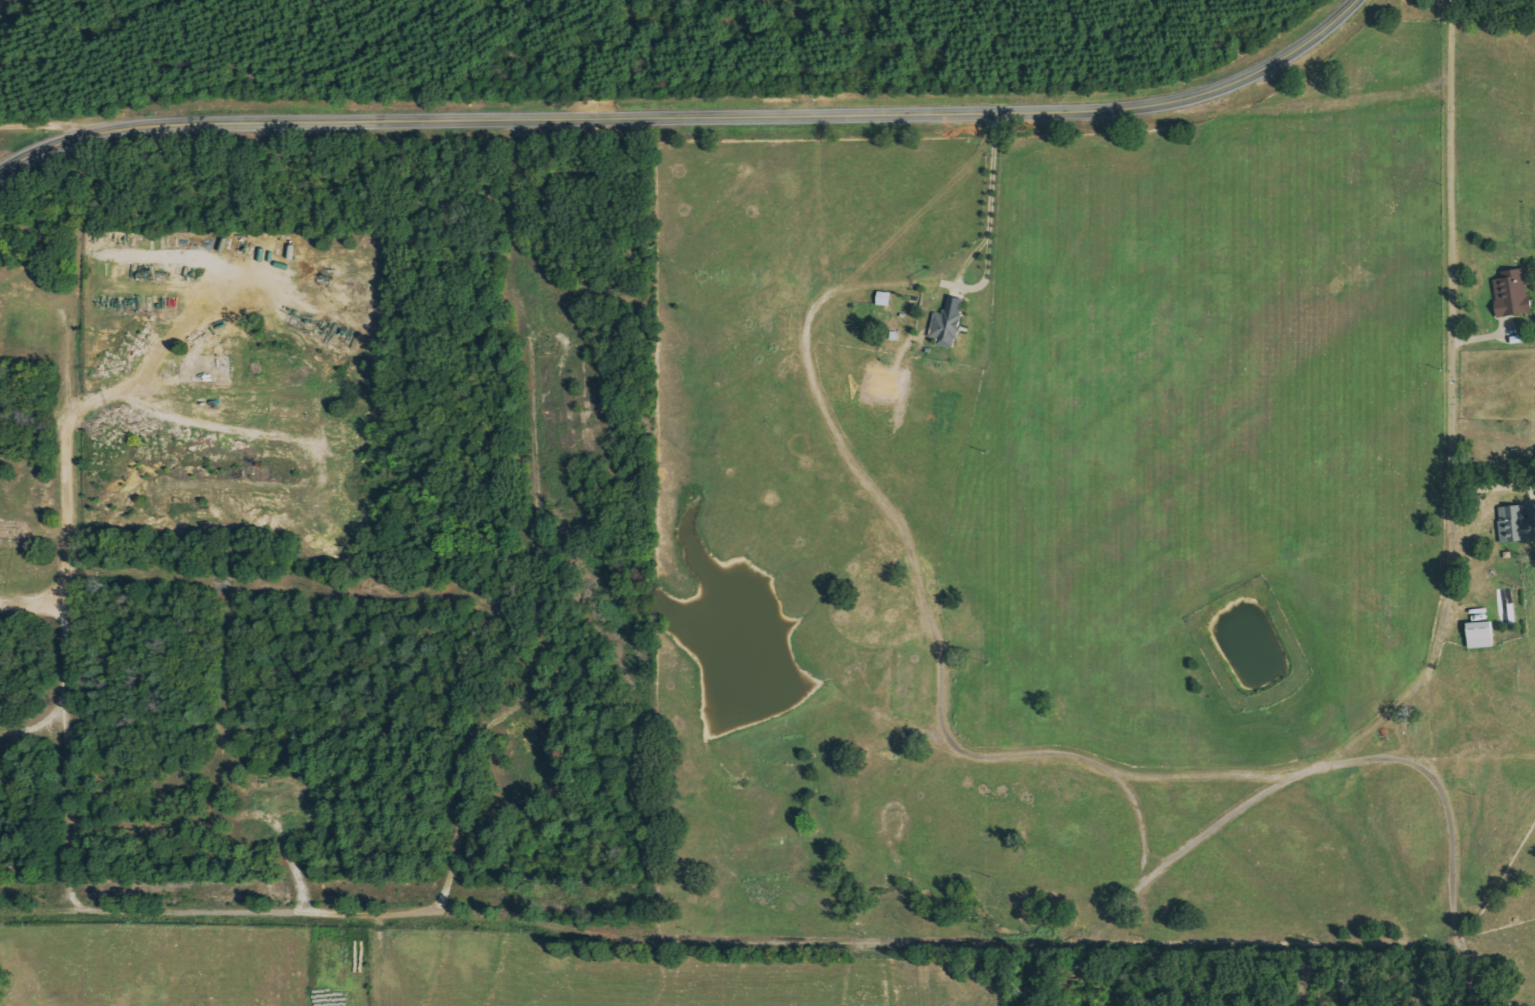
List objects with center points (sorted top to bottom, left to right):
road: (1447, 41)
road: (1310, 104)
road: (688, 112)
road: (51, 127)
road: (990, 202)
building: (1511, 293)
building: (947, 324)
building: (1516, 522)
road: (525, 530)
road: (86, 552)
road: (262, 593)
building: (1478, 634)
road: (272, 730)
road: (1072, 755)
road: (1138, 815)
road: (1058, 942)
road: (937, 974)

